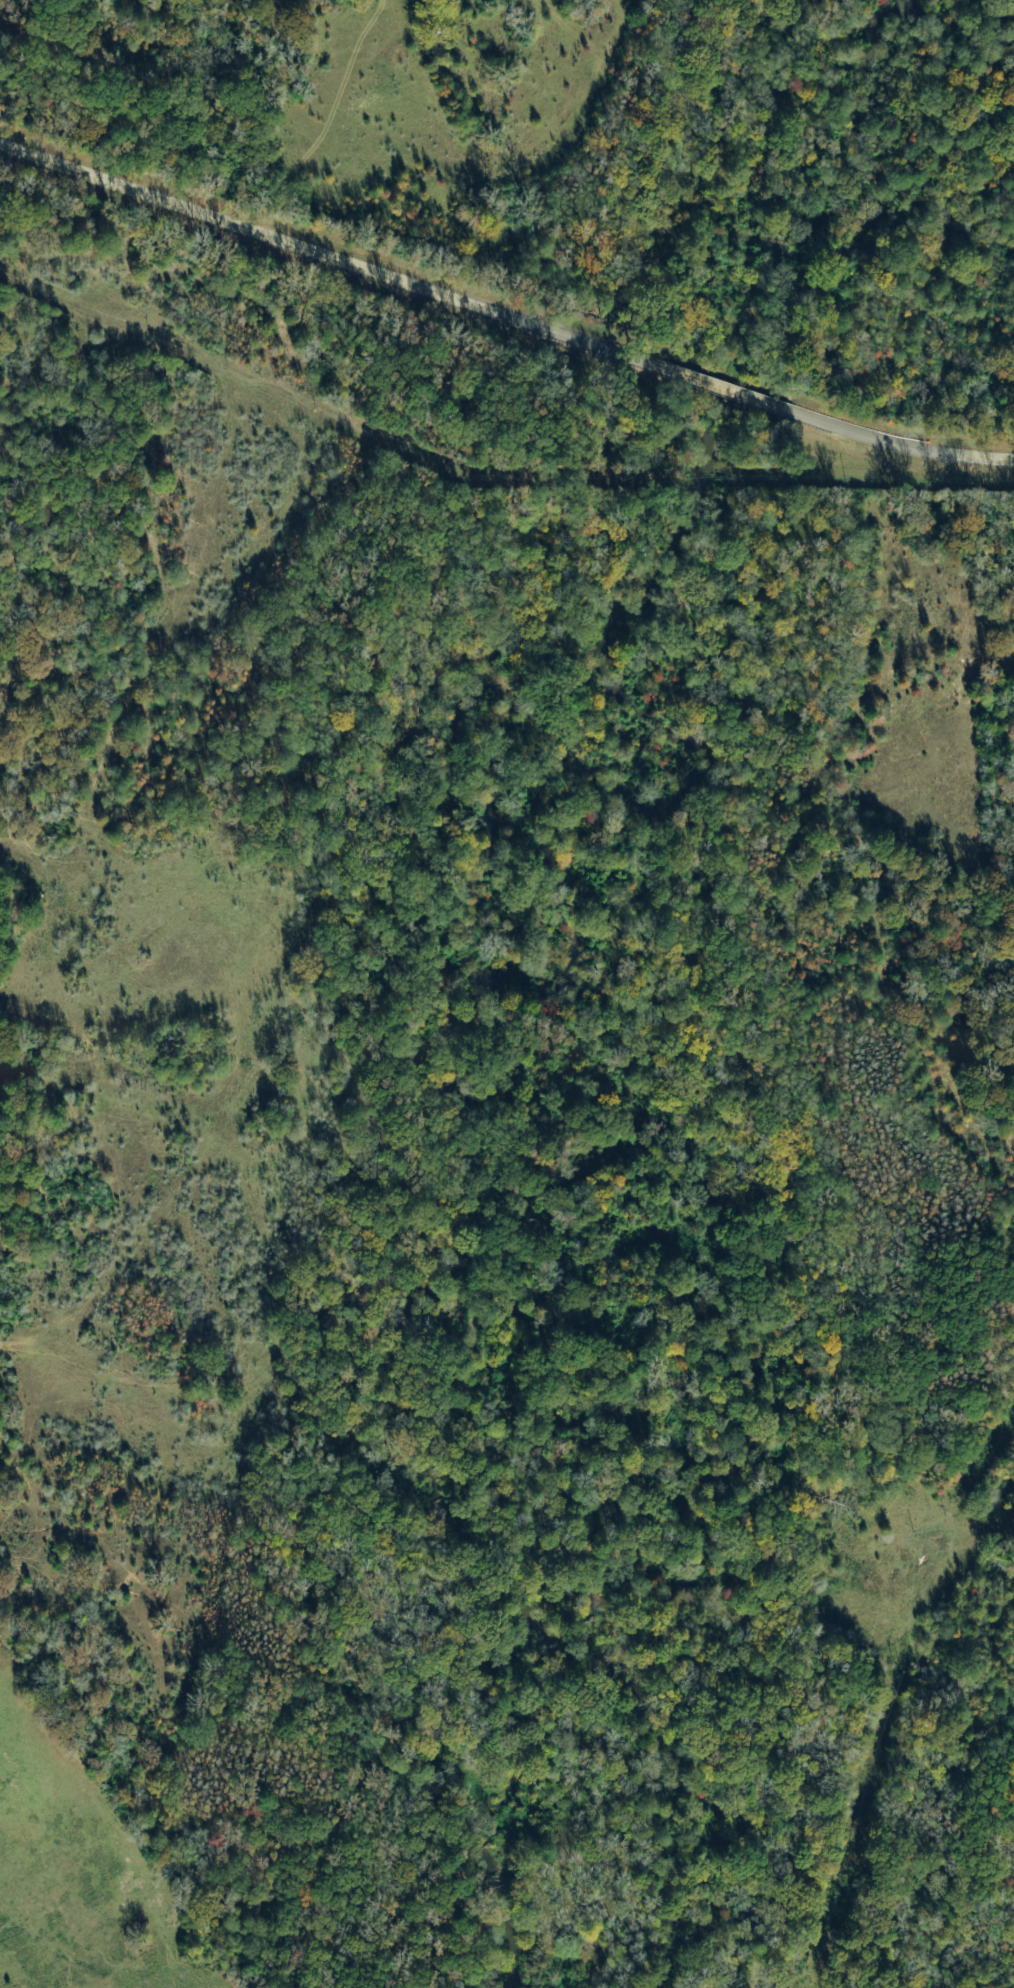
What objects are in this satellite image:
road: (503, 315)

